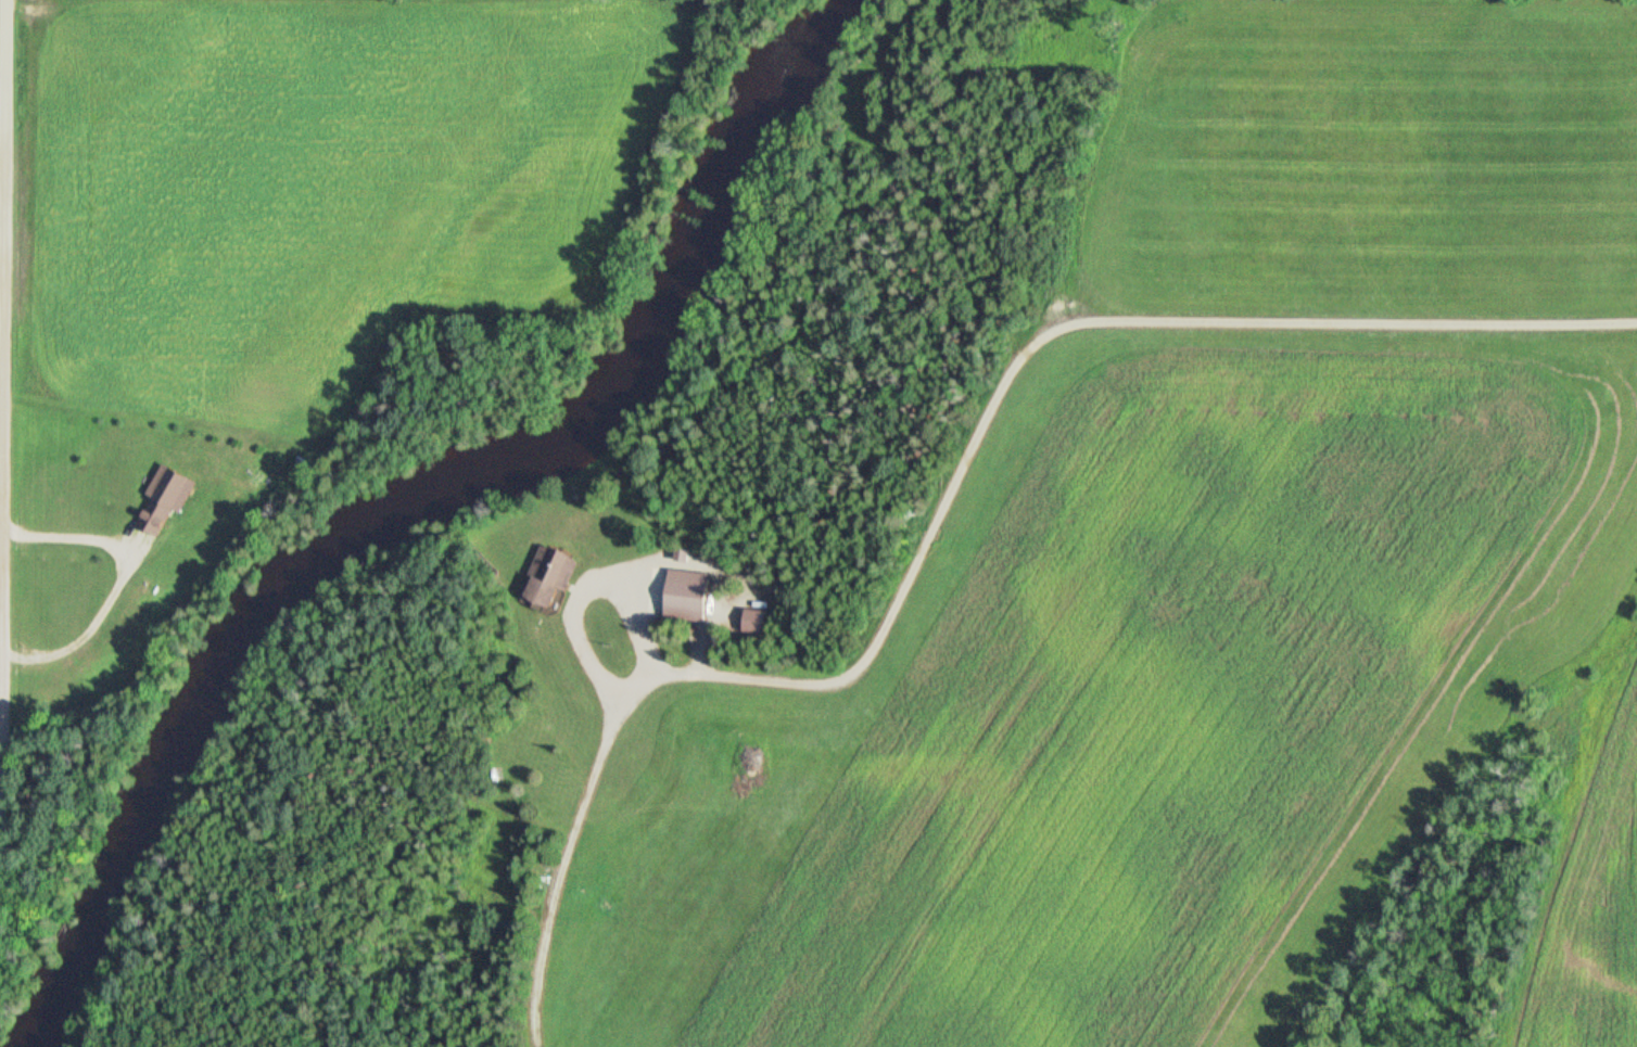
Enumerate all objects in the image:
road: (1, 136)
building: (173, 493)
river: (410, 512)
road: (948, 512)
road: (66, 537)
building: (689, 551)
road: (643, 566)
building: (557, 573)
building: (693, 591)
building: (764, 622)
road: (90, 624)
road: (646, 625)

